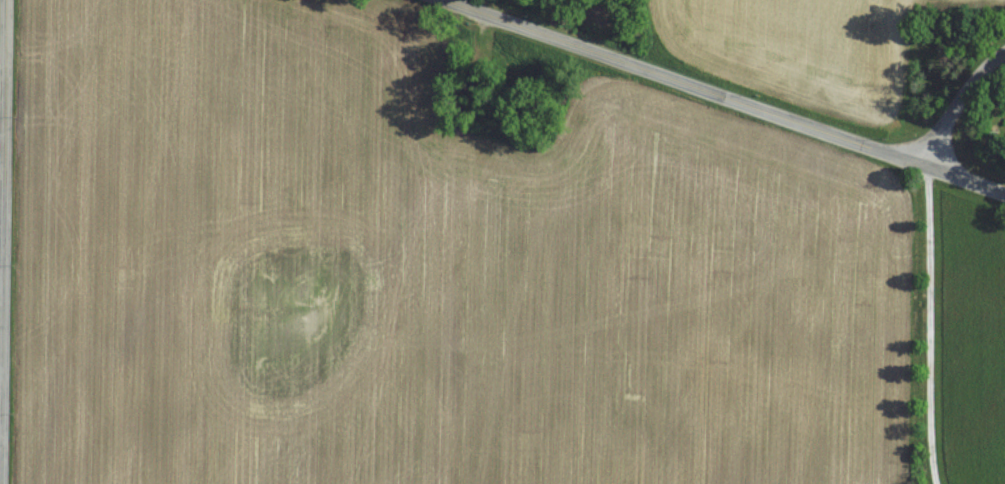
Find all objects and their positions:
road: (726, 96)
road: (959, 106)
road: (927, 323)

